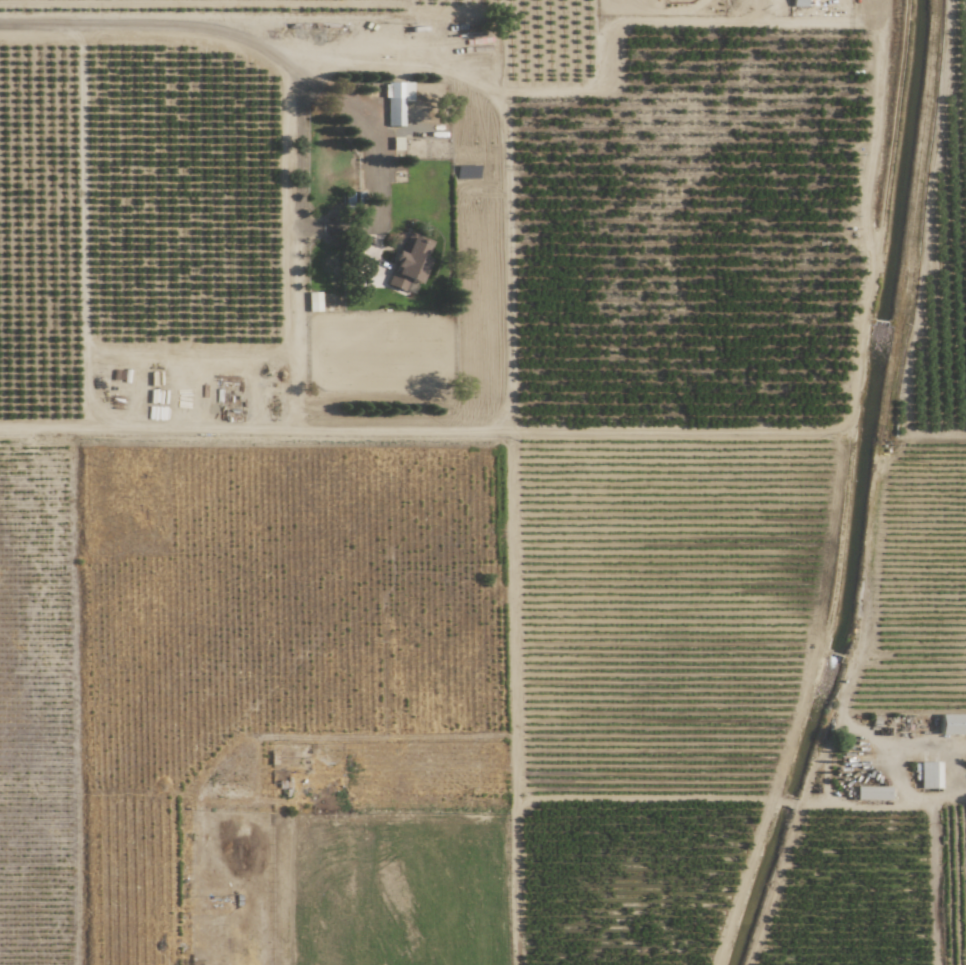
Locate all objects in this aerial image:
building: (798, 2)
road: (155, 23)
building: (396, 101)
road: (352, 221)
building: (409, 263)
building: (952, 724)
building: (928, 774)
road: (961, 791)
building: (873, 793)

